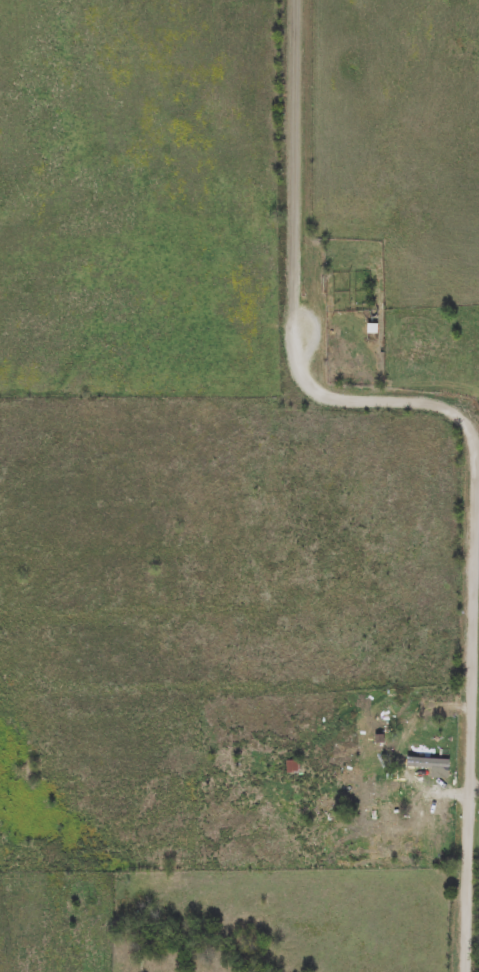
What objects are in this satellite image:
road: (298, 169)
road: (378, 400)
road: (474, 667)
building: (417, 760)
building: (293, 767)
road: (475, 790)
building: (416, 835)
road: (470, 893)

